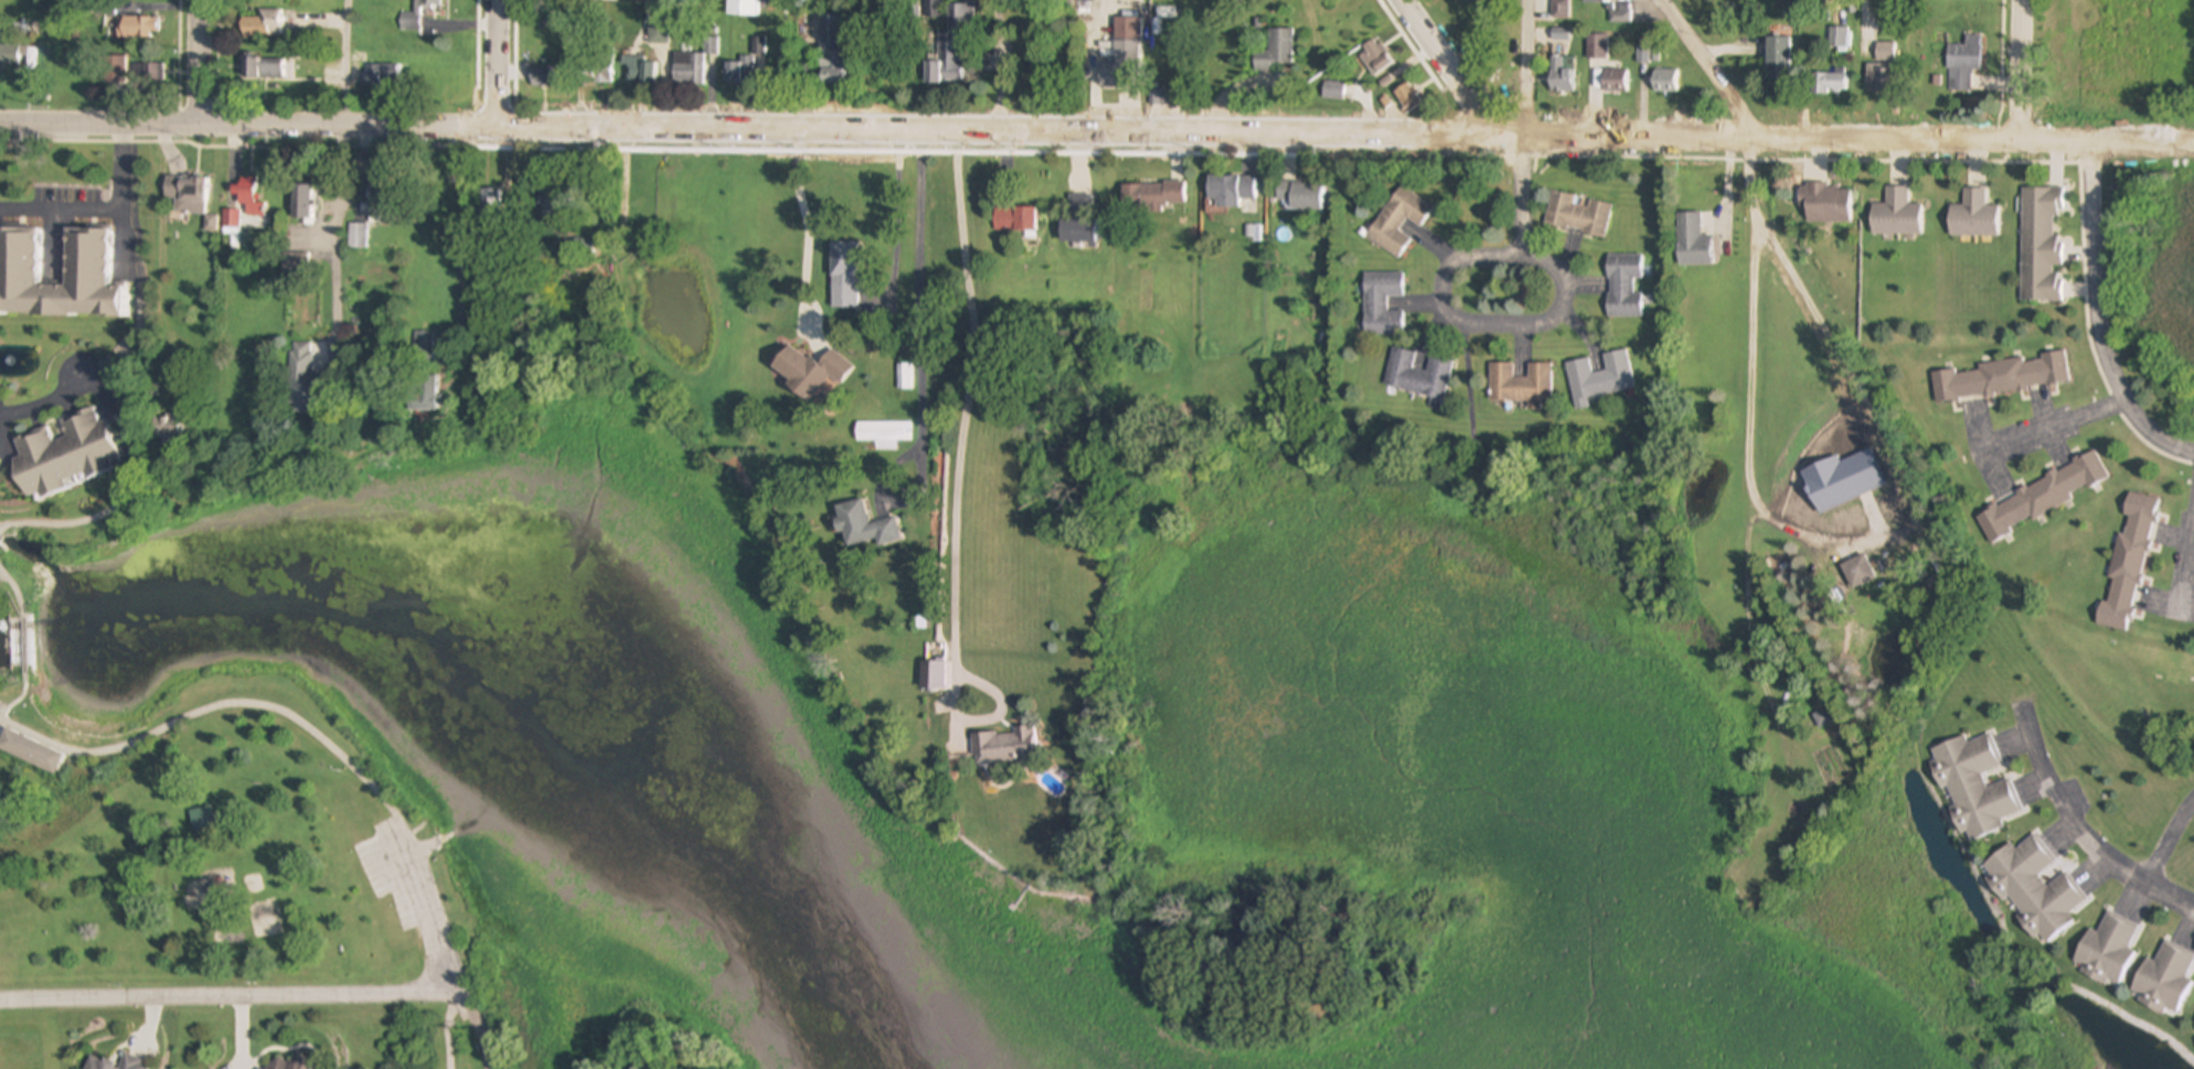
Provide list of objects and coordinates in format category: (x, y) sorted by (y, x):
building: (597, 0)
building: (642, 0)
building: (1594, 2)
building: (743, 9)
building: (1559, 9)
building: (416, 15)
road: (1862, 19)
building: (262, 26)
building: (137, 29)
building: (658, 32)
building: (1838, 40)
building: (712, 47)
building: (1597, 49)
building: (950, 50)
building: (833, 52)
building: (1275, 52)
building: (9, 55)
building: (1122, 56)
building: (1375, 60)
road: (182, 61)
road: (199, 61)
building: (1778, 62)
road: (347, 63)
road: (497, 63)
building: (750, 64)
building: (1962, 65)
road: (1447, 67)
building: (260, 68)
road: (1524, 68)
road: (1712, 68)
building: (114, 70)
railway: (1681, 70)
building: (688, 71)
road: (2021, 71)
building: (597, 72)
building: (640, 72)
building: (1558, 76)
building: (546, 78)
building: (1878, 81)
building: (1616, 83)
building: (1665, 83)
building: (1829, 85)
building: (1334, 93)
building: (1408, 98)
road: (1097, 131)
road: (173, 142)
building: (1232, 192)
building: (178, 195)
building: (1151, 195)
building: (1299, 195)
road: (1524, 195)
building: (247, 196)
building: (490, 200)
building: (363, 201)
building: (300, 202)
building: (1826, 204)
road: (105, 215)
building: (1577, 215)
building: (1895, 215)
building: (1973, 216)
road: (895, 217)
building: (1014, 220)
building: (1078, 220)
building: (231, 221)
building: (1398, 222)
road: (459, 227)
road: (810, 232)
building: (356, 236)
building: (1692, 240)
building: (2039, 245)
building: (85, 257)
building: (294, 263)
building: (843, 275)
park: (679, 280)
building: (1622, 286)
building: (1381, 303)
road: (1448, 308)
road: (918, 311)
road: (2097, 319)
building: (422, 345)
building: (810, 373)
building: (1417, 375)
building: (300, 377)
building: (904, 377)
building: (1599, 378)
building: (2000, 378)
road: (111, 385)
building: (1521, 385)
building: (423, 395)
road: (45, 405)
road: (1866, 408)
road: (960, 427)
road: (2054, 427)
building: (883, 434)
building: (62, 455)
road: (1749, 478)
building: (2042, 496)
building: (864, 525)
building: (2128, 564)
building: (1857, 571)
road: (2188, 573)
road: (17, 591)
road: (25, 651)
road: (317, 736)
building: (1004, 747)
building: (30, 751)
building: (1974, 787)
building: (204, 821)
road: (2074, 833)
road: (2170, 841)
park: (234, 857)
building: (2033, 889)
building: (2106, 950)
building: (2164, 980)
road: (268, 997)
building: (2193, 1028)
building: (127, 1060)
building: (288, 1062)

